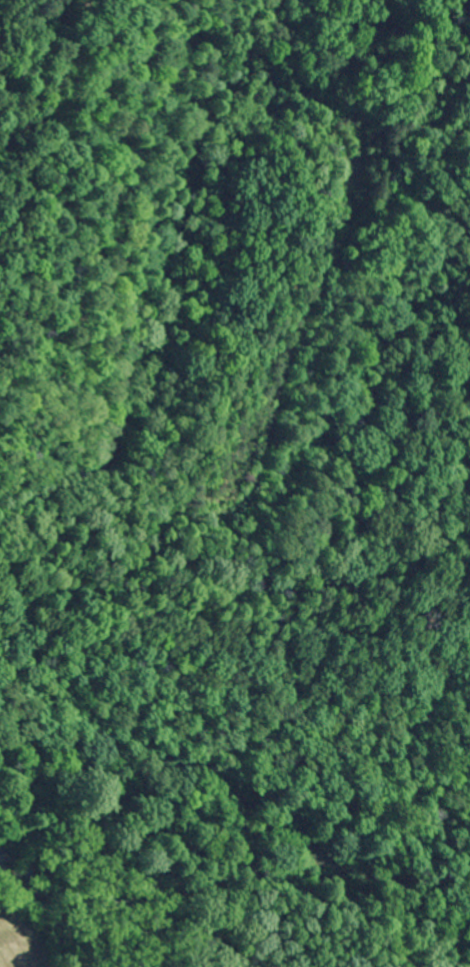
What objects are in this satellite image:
river: (56, 901)

